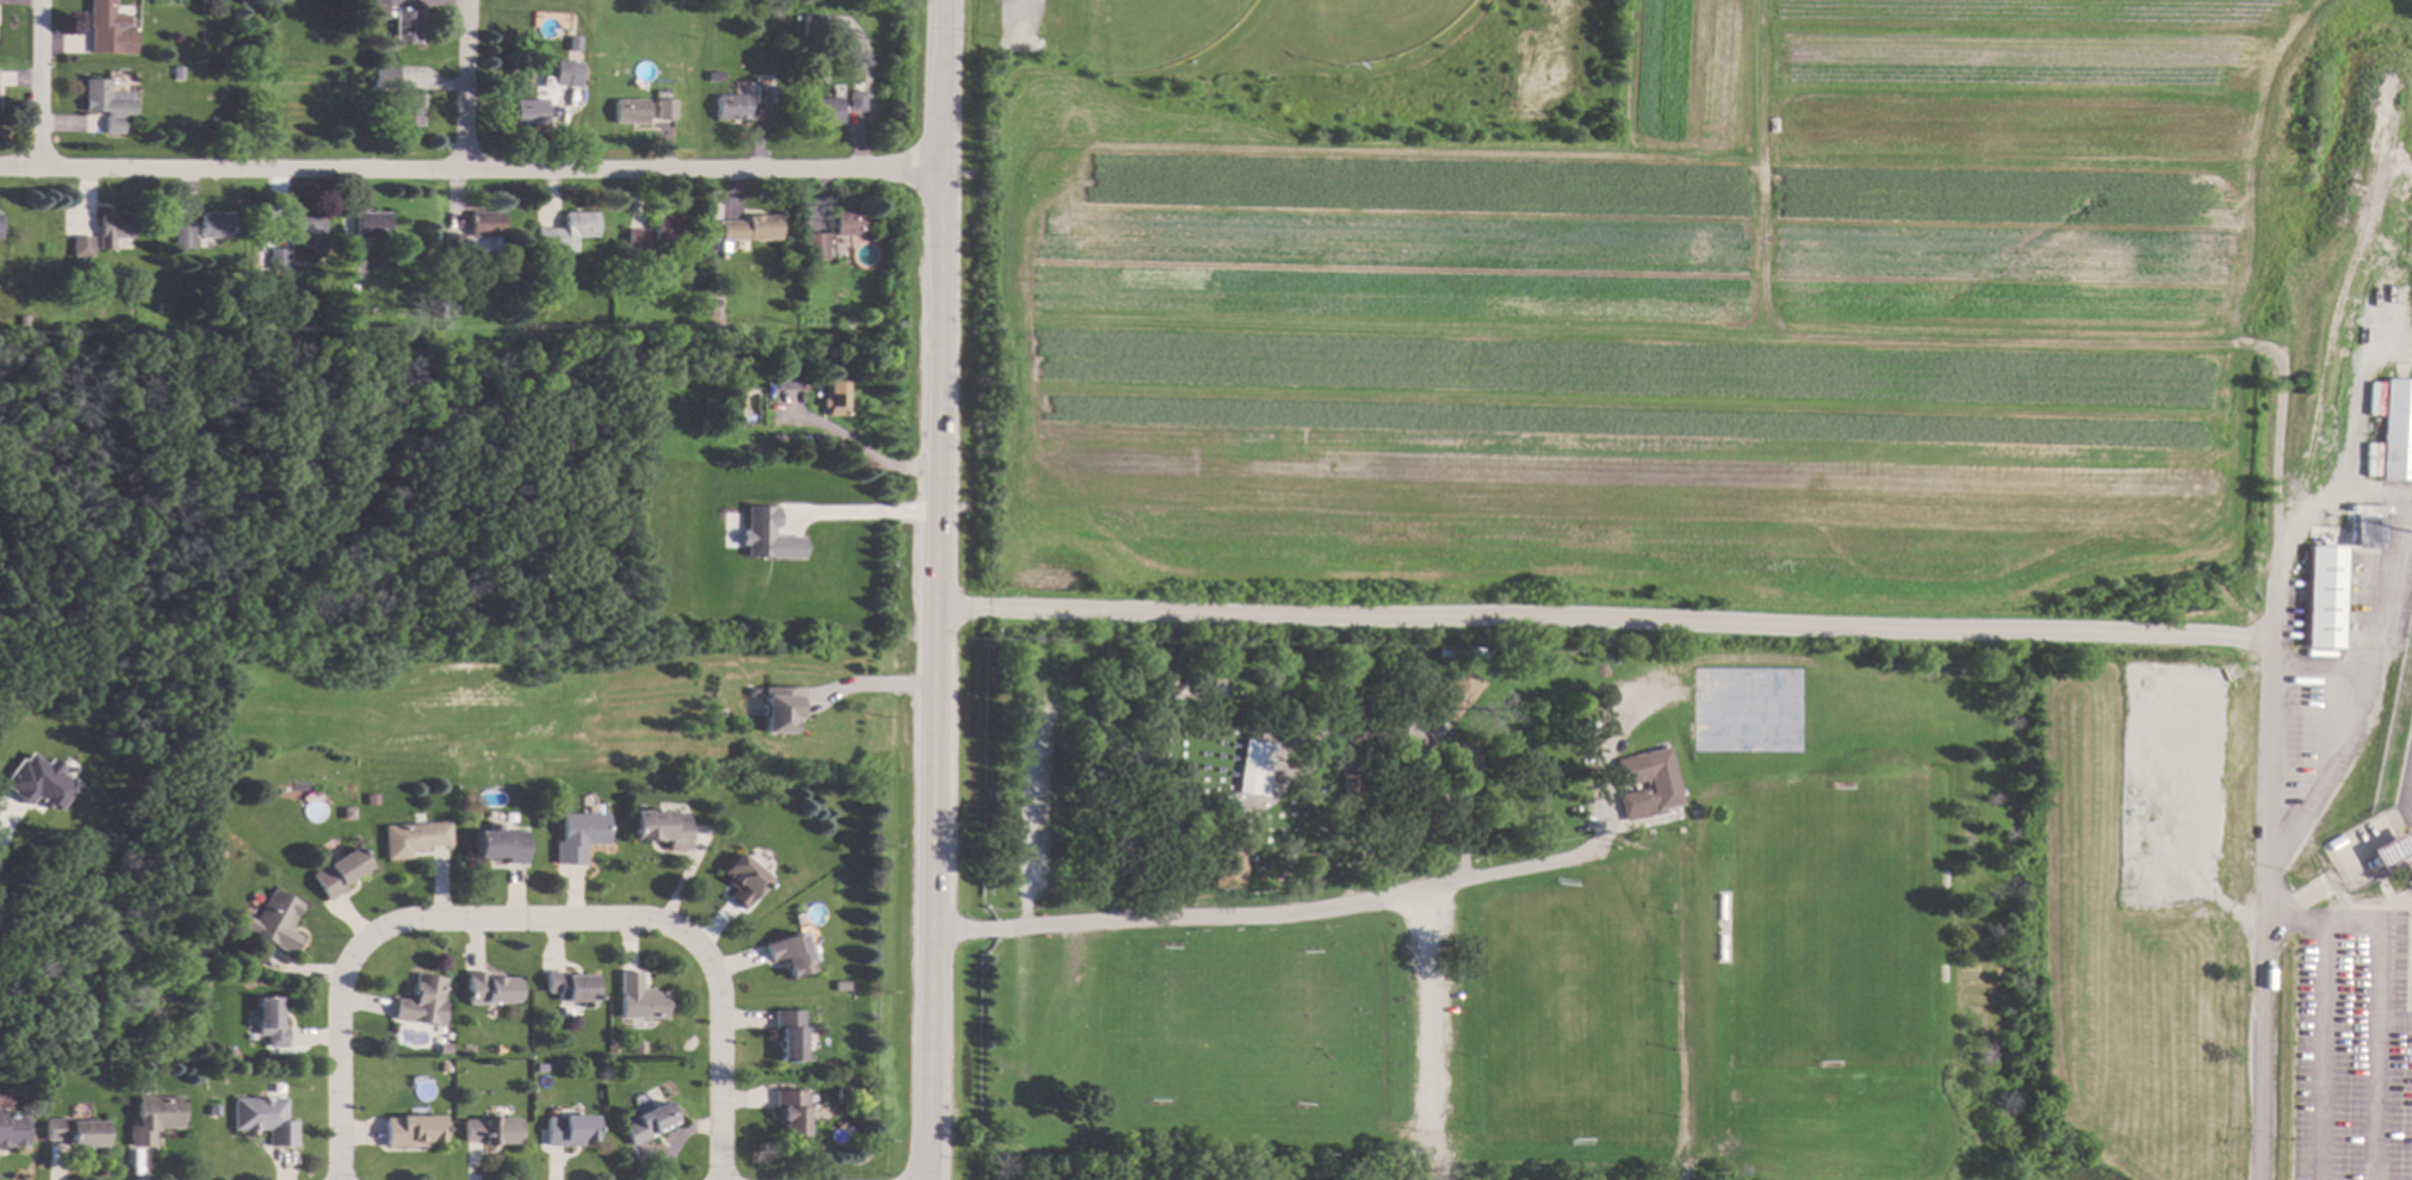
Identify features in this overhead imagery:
building: (207, 1)
building: (796, 7)
building: (378, 8)
road: (1017, 12)
building: (817, 25)
building: (407, 26)
park: (1385, 26)
building: (108, 29)
park: (1155, 32)
building: (576, 49)
building: (569, 72)
building: (175, 73)
building: (386, 77)
road: (39, 85)
road: (466, 86)
building: (858, 86)
building: (661, 94)
building: (764, 94)
building: (857, 101)
building: (106, 104)
building: (731, 107)
building: (407, 108)
building: (665, 110)
building: (825, 110)
building: (630, 111)
building: (529, 112)
road: (469, 172)
building: (850, 223)
building: (485, 224)
building: (215, 225)
building: (373, 225)
building: (670, 228)
building: (111, 229)
building: (750, 229)
building: (566, 232)
building: (305, 235)
building: (182, 237)
building: (637, 240)
building: (814, 246)
building: (80, 247)
building: (452, 247)
building: (723, 247)
building: (278, 259)
building: (353, 269)
crop: (1686, 319)
building: (827, 341)
building: (786, 379)
building: (832, 393)
building: (2395, 429)
road: (854, 447)
road: (2335, 479)
road: (2370, 491)
road: (860, 511)
building: (2366, 532)
building: (764, 535)
road: (2399, 540)
road: (935, 589)
building: (2323, 596)
road: (1726, 620)
building: (1601, 651)
road: (2319, 664)
road: (866, 684)
building: (1452, 695)
building: (777, 708)
building: (1270, 722)
building: (1463, 754)
building: (1391, 765)
building: (1253, 766)
building: (31, 780)
building: (1348, 780)
building: (1662, 783)
building: (217, 800)
building: (659, 827)
building: (578, 836)
building: (413, 839)
building: (500, 845)
building: (2407, 864)
building: (1228, 865)
road: (2274, 869)
building: (339, 872)
building: (742, 881)
park: (1476, 903)
road: (1251, 918)
building: (274, 921)
road: (534, 921)
building: (788, 954)
building: (841, 986)
building: (569, 987)
building: (488, 989)
road: (2370, 996)
building: (638, 999)
building: (421, 1001)
road: (2391, 1021)
building: (268, 1023)
building: (788, 1035)
building: (637, 1048)
building: (441, 1049)
road: (2320, 1049)
building: (221, 1051)
building: (442, 1068)
building: (540, 1068)
building: (841, 1094)
building: (212, 1110)
building: (789, 1112)
building: (625, 1118)
building: (153, 1119)
building: (263, 1119)
building: (647, 1123)
building: (12, 1130)
building: (569, 1130)
building: (411, 1131)
building: (491, 1131)
building: (75, 1132)

